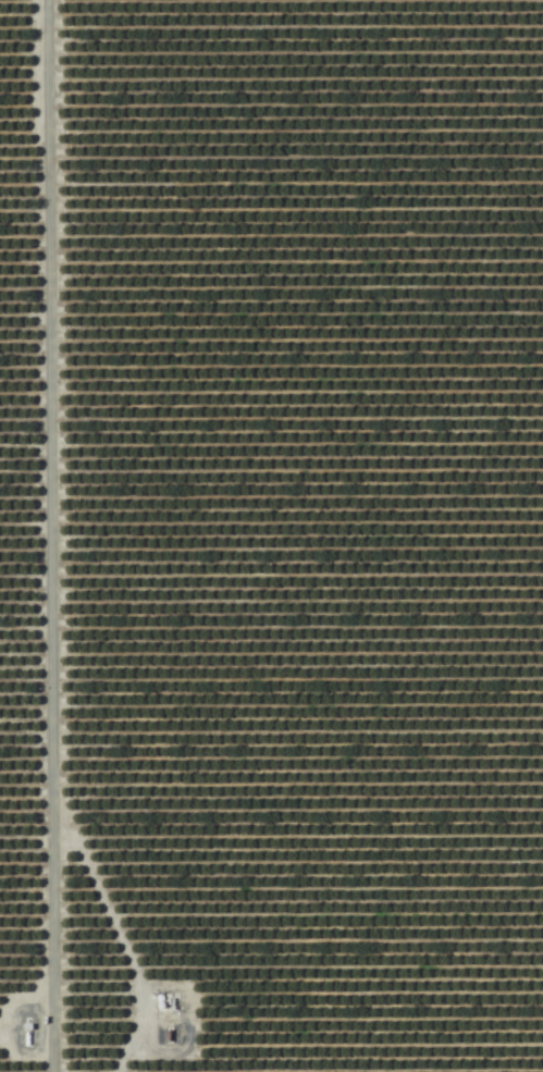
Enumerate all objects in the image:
road: (45, 535)
crop: (271, 535)

